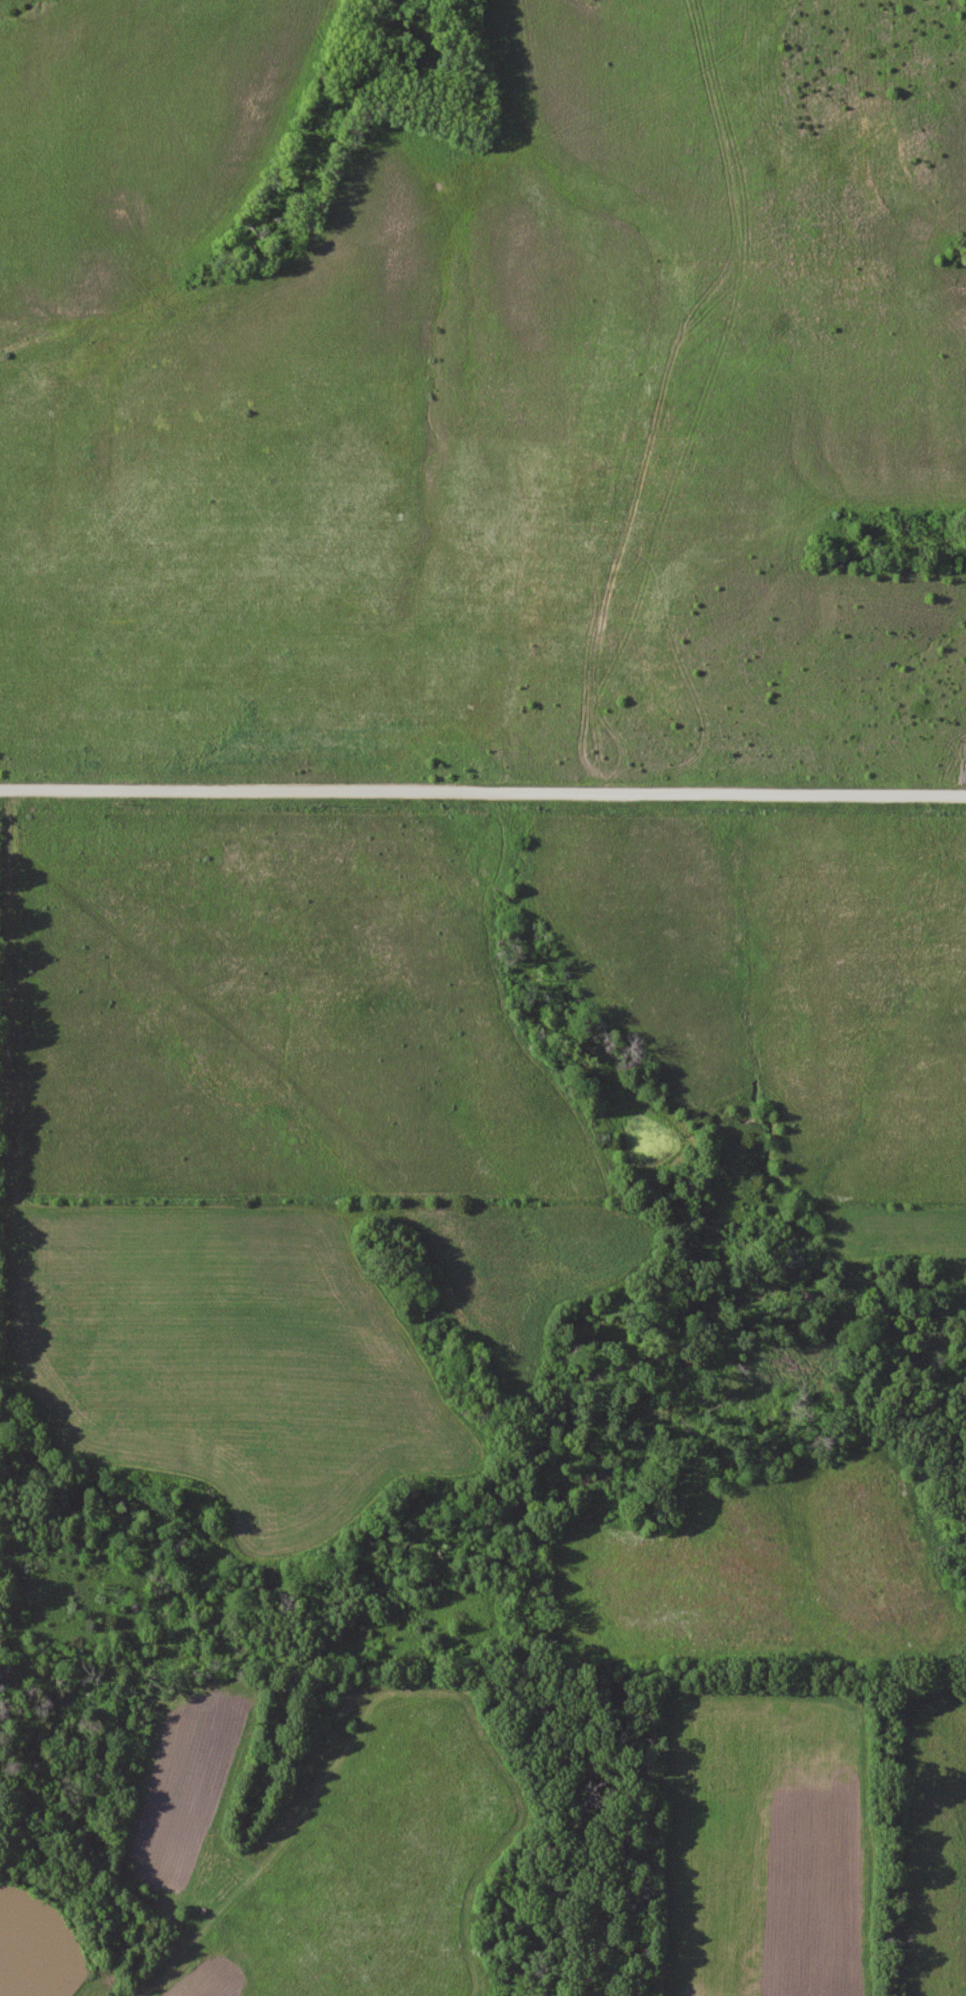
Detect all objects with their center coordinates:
road: (483, 786)

